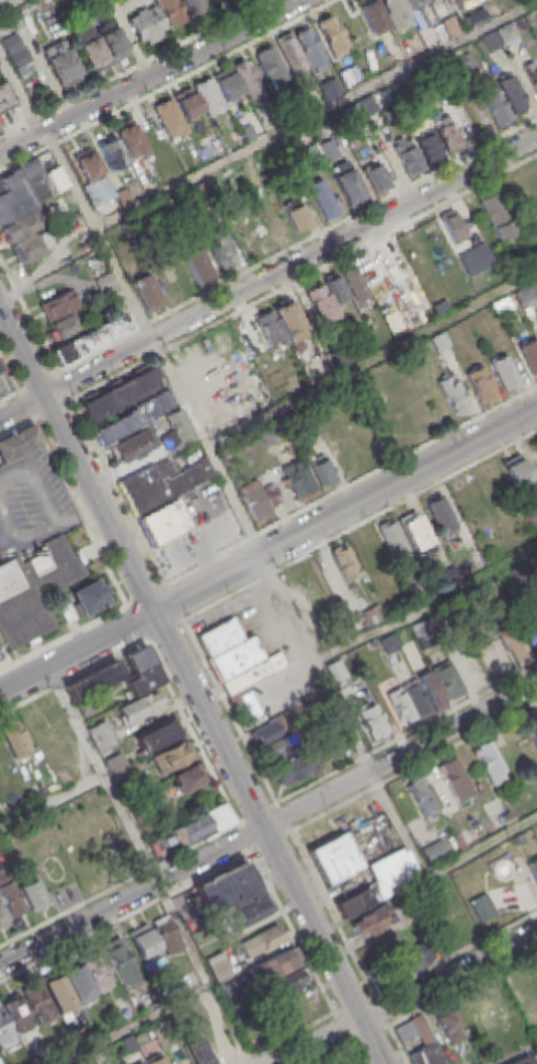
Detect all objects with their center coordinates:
building: (230, 0)
building: (432, 0)
road: (4, 2)
building: (414, 3)
building: (193, 7)
building: (171, 12)
building: (396, 14)
building: (375, 18)
building: (476, 20)
building: (147, 24)
building: (450, 27)
building: (506, 34)
building: (332, 36)
building: (490, 42)
building: (114, 43)
building: (12, 44)
building: (413, 47)
building: (309, 48)
building: (91, 50)
building: (292, 56)
building: (20, 58)
building: (389, 58)
building: (466, 66)
building: (62, 67)
building: (272, 67)
building: (351, 76)
road: (152, 78)
building: (534, 79)
building: (250, 80)
building: (228, 85)
building: (335, 88)
building: (400, 94)
road: (20, 95)
building: (513, 96)
building: (5, 98)
building: (210, 99)
building: (493, 103)
building: (187, 105)
building: (367, 106)
road: (316, 114)
building: (170, 119)
building: (248, 134)
building: (0, 136)
building: (447, 136)
building: (130, 140)
building: (429, 148)
building: (217, 149)
building: (328, 151)
building: (113, 155)
building: (408, 158)
building: (89, 167)
building: (377, 179)
building: (347, 185)
building: (26, 190)
building: (199, 193)
building: (124, 198)
building: (323, 201)
building: (496, 215)
building: (297, 216)
building: (450, 226)
building: (23, 227)
building: (126, 234)
building: (34, 245)
building: (220, 251)
building: (475, 261)
building: (197, 265)
road: (290, 267)
building: (104, 284)
building: (356, 285)
building: (336, 289)
building: (149, 294)
building: (525, 295)
building: (321, 306)
building: (58, 307)
building: (502, 307)
building: (289, 321)
building: (65, 327)
building: (268, 331)
building: (91, 341)
building: (439, 342)
road: (155, 343)
road: (370, 355)
building: (529, 357)
building: (0, 371)
building: (505, 374)
building: (481, 385)
building: (119, 396)
building: (454, 396)
road: (22, 409)
building: (135, 420)
building: (180, 432)
building: (18, 444)
building: (133, 446)
road: (76, 461)
building: (322, 470)
building: (518, 474)
building: (300, 483)
building: (161, 484)
road: (349, 488)
building: (256, 505)
road: (344, 511)
building: (439, 515)
road: (79, 518)
building: (164, 523)
road: (57, 525)
road: (357, 525)
building: (413, 533)
building: (393, 540)
building: (345, 562)
building: (404, 570)
building: (449, 575)
building: (33, 590)
building: (297, 591)
road: (145, 593)
building: (84, 598)
road: (426, 603)
road: (128, 604)
building: (372, 613)
road: (136, 621)
road: (163, 629)
building: (529, 630)
road: (146, 638)
building: (387, 643)
building: (514, 643)
building: (228, 648)
road: (76, 651)
road: (317, 661)
building: (140, 670)
building: (336, 671)
building: (252, 672)
building: (92, 679)
building: (448, 679)
building: (430, 688)
building: (415, 696)
building: (399, 705)
building: (85, 706)
building: (139, 706)
building: (372, 720)
building: (532, 727)
building: (157, 733)
building: (266, 733)
building: (99, 735)
building: (14, 736)
building: (275, 751)
road: (399, 754)
building: (171, 755)
building: (487, 758)
building: (114, 763)
building: (293, 769)
building: (188, 777)
building: (455, 778)
building: (422, 792)
road: (50, 802)
building: (504, 816)
building: (199, 825)
road: (268, 837)
building: (471, 837)
building: (519, 838)
building: (434, 850)
building: (334, 857)
road: (146, 866)
building: (533, 868)
road: (427, 876)
building: (380, 881)
building: (226, 886)
building: (32, 894)
building: (9, 895)
road: (132, 896)
building: (482, 907)
building: (254, 911)
building: (2, 918)
building: (372, 920)
building: (165, 936)
building: (142, 940)
building: (261, 940)
building: (414, 958)
building: (119, 959)
building: (274, 964)
building: (96, 972)
road: (448, 975)
building: (78, 982)
building: (287, 982)
building: (228, 987)
building: (58, 992)
building: (36, 1003)
building: (484, 1009)
building: (16, 1014)
building: (450, 1022)
road: (133, 1025)
building: (4, 1028)
road: (316, 1041)
building: (127, 1043)
building: (424, 1045)
building: (198, 1050)
building: (175, 1054)
building: (526, 1059)
building: (157, 1060)
building: (141, 1063)

